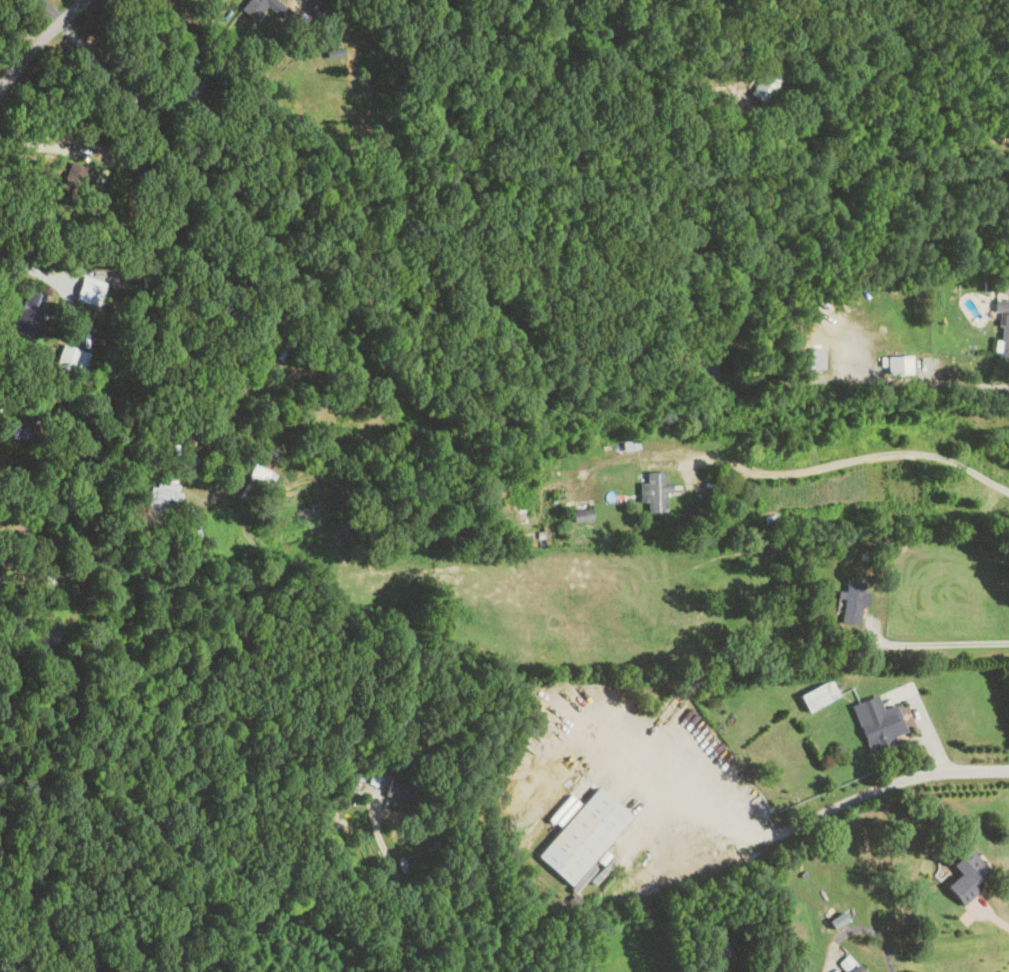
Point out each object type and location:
building: (252, 7)
road: (53, 10)
building: (323, 19)
road: (40, 41)
road: (107, 71)
building: (763, 87)
building: (183, 96)
road: (40, 141)
building: (71, 180)
road: (32, 270)
building: (28, 316)
building: (1003, 328)
building: (814, 357)
building: (65, 359)
building: (896, 365)
road: (84, 405)
building: (17, 430)
road: (858, 458)
building: (157, 461)
building: (257, 482)
building: (162, 489)
building: (654, 492)
road: (220, 497)
building: (580, 515)
building: (522, 516)
building: (852, 603)
road: (939, 643)
building: (816, 694)
road: (921, 720)
building: (877, 722)
building: (397, 790)
road: (782, 830)
building: (582, 836)
building: (965, 874)
road: (398, 885)
road: (990, 913)
road: (859, 925)
building: (720, 950)
building: (854, 969)

